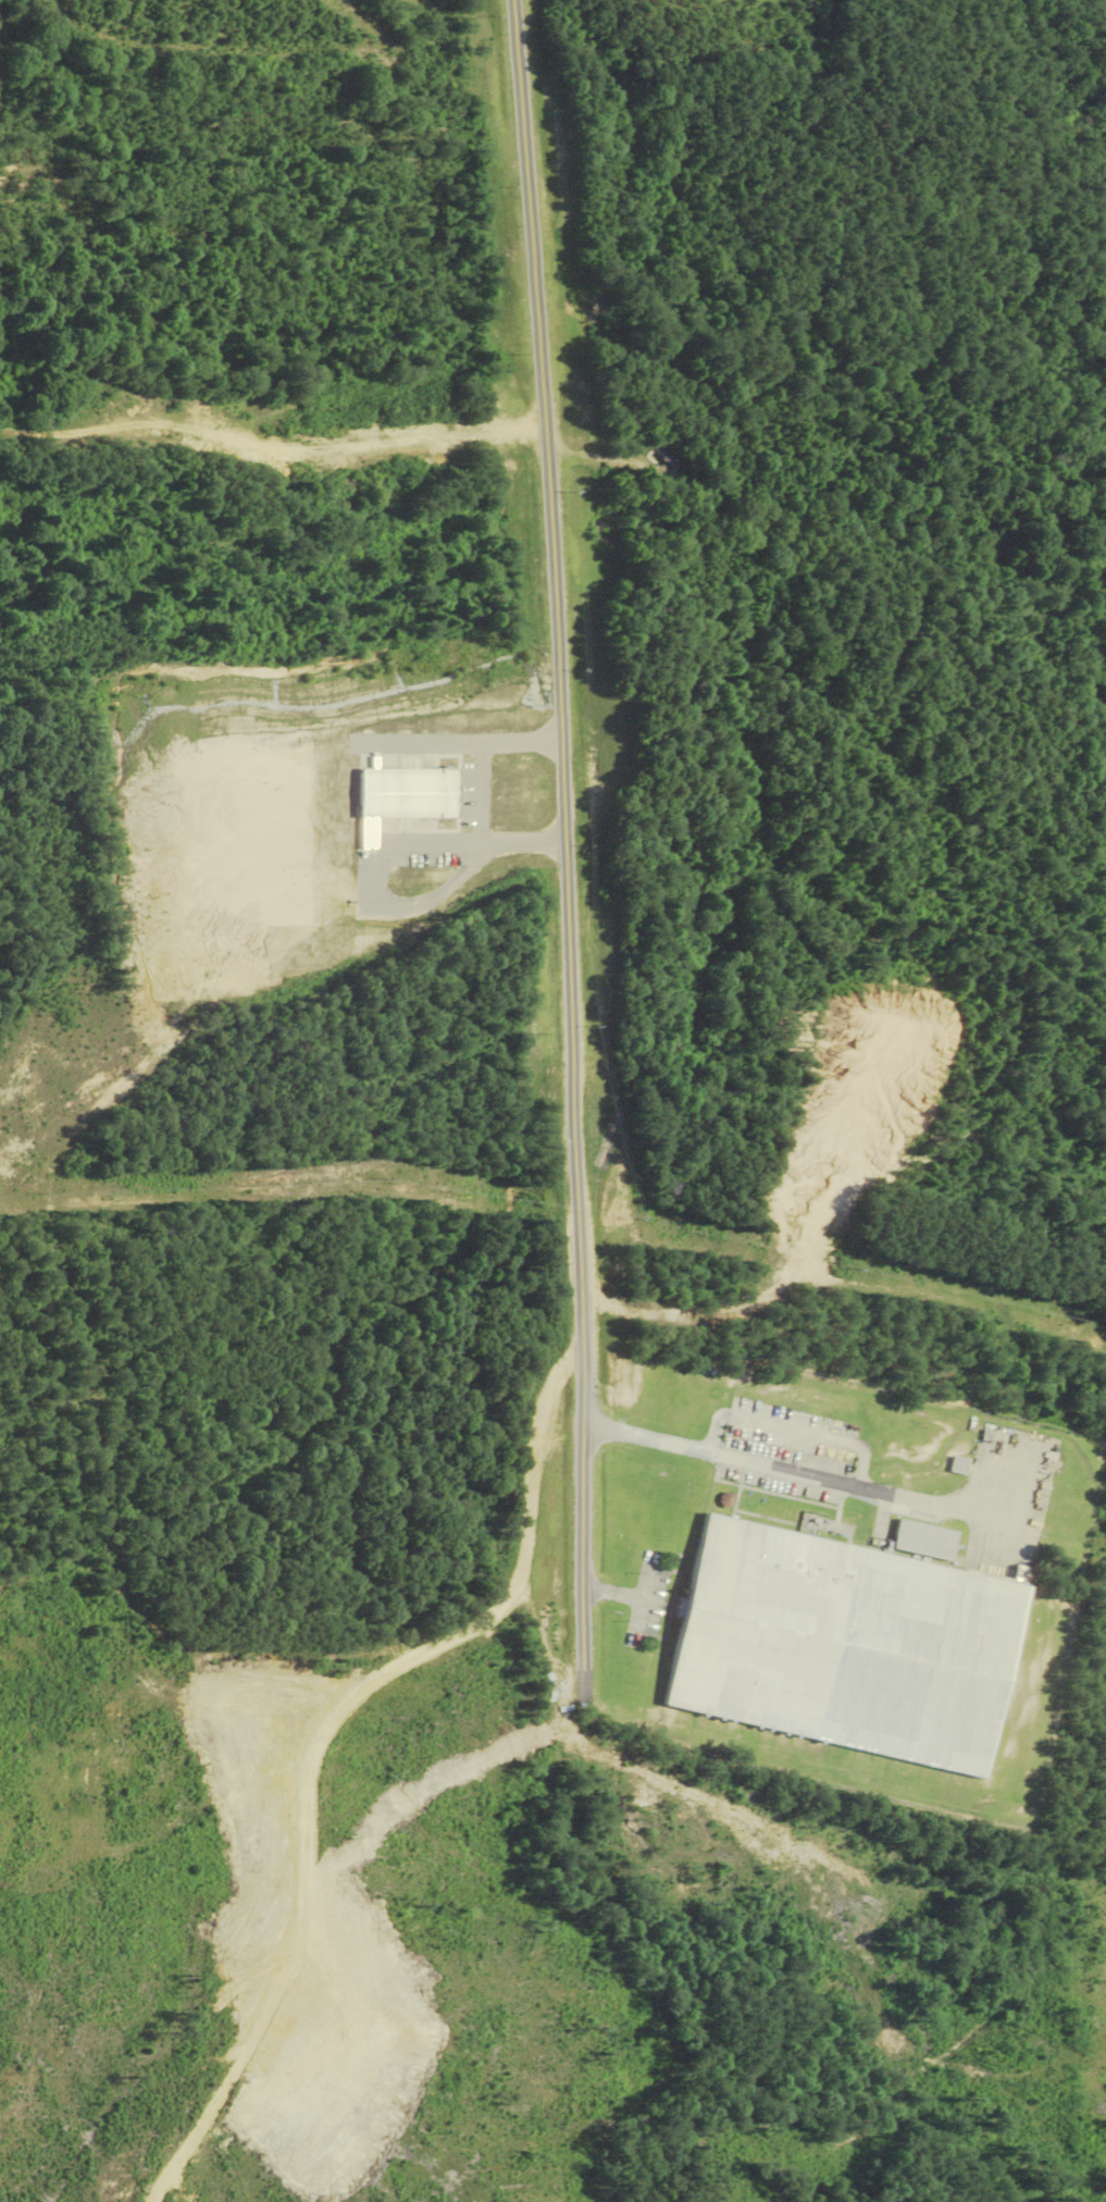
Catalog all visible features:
road: (475, 794)
road: (563, 850)
building: (958, 1464)
road: (809, 1476)
building: (924, 1539)
building: (847, 1645)
road: (314, 1823)

